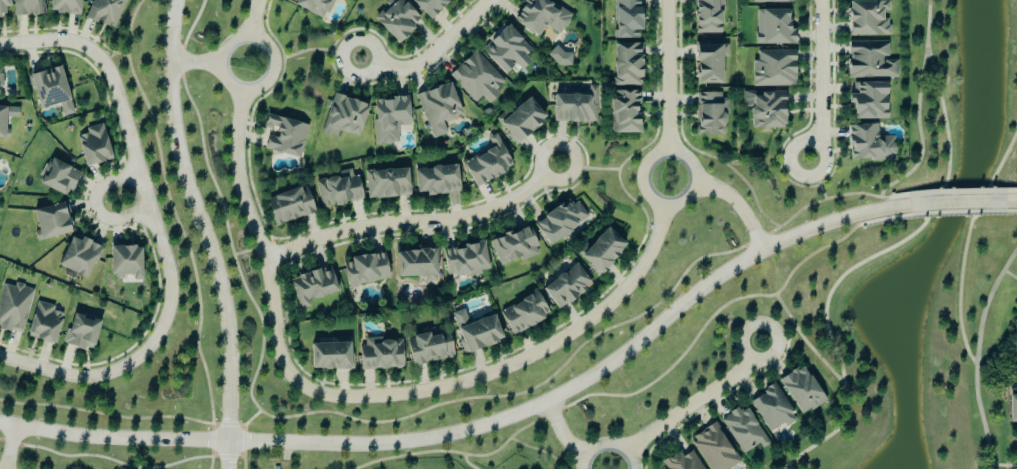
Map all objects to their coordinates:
building: (771, 2)
building: (311, 6)
building: (428, 6)
building: (3, 7)
building: (63, 7)
building: (27, 8)
building: (104, 12)
building: (540, 17)
building: (705, 17)
road: (254, 18)
building: (396, 19)
building: (626, 19)
building: (866, 19)
building: (772, 28)
road: (56, 42)
building: (505, 50)
road: (433, 54)
building: (869, 61)
road: (196, 62)
building: (626, 65)
building: (707, 65)
building: (773, 69)
road: (820, 72)
road: (667, 76)
building: (476, 79)
road: (252, 87)
building: (49, 90)
building: (868, 102)
building: (574, 108)
building: (437, 109)
building: (764, 109)
building: (624, 113)
building: (709, 115)
building: (6, 117)
building: (343, 118)
building: (388, 120)
building: (520, 121)
building: (284, 137)
building: (868, 145)
building: (93, 146)
road: (788, 162)
building: (487, 163)
building: (56, 178)
building: (435, 181)
building: (385, 185)
building: (337, 190)
road: (963, 190)
road: (1004, 190)
road: (907, 192)
road: (652, 198)
road: (149, 200)
road: (1002, 200)
road: (958, 201)
road: (97, 206)
road: (740, 206)
building: (288, 207)
road: (999, 211)
road: (953, 212)
road: (890, 216)
road: (927, 218)
building: (51, 221)
building: (560, 222)
road: (418, 223)
road: (206, 233)
road: (257, 234)
road: (966, 243)
building: (513, 248)
building: (600, 252)
building: (77, 258)
building: (464, 261)
building: (125, 263)
building: (415, 265)
building: (364, 271)
road: (1010, 274)
building: (312, 287)
building: (566, 287)
road: (987, 301)
building: (13, 308)
building: (523, 314)
building: (43, 324)
building: (475, 332)
building: (80, 333)
building: (1015, 340)
building: (428, 349)
building: (379, 355)
building: (330, 357)
road: (515, 366)
road: (87, 379)
building: (800, 390)
road: (627, 391)
road: (700, 402)
building: (771, 409)
building: (1012, 409)
road: (981, 416)
road: (492, 423)
building: (743, 430)
road: (563, 434)
road: (609, 445)
road: (9, 446)
building: (713, 448)
building: (681, 461)
road: (128, 463)
road: (467, 463)
road: (1005, 465)

